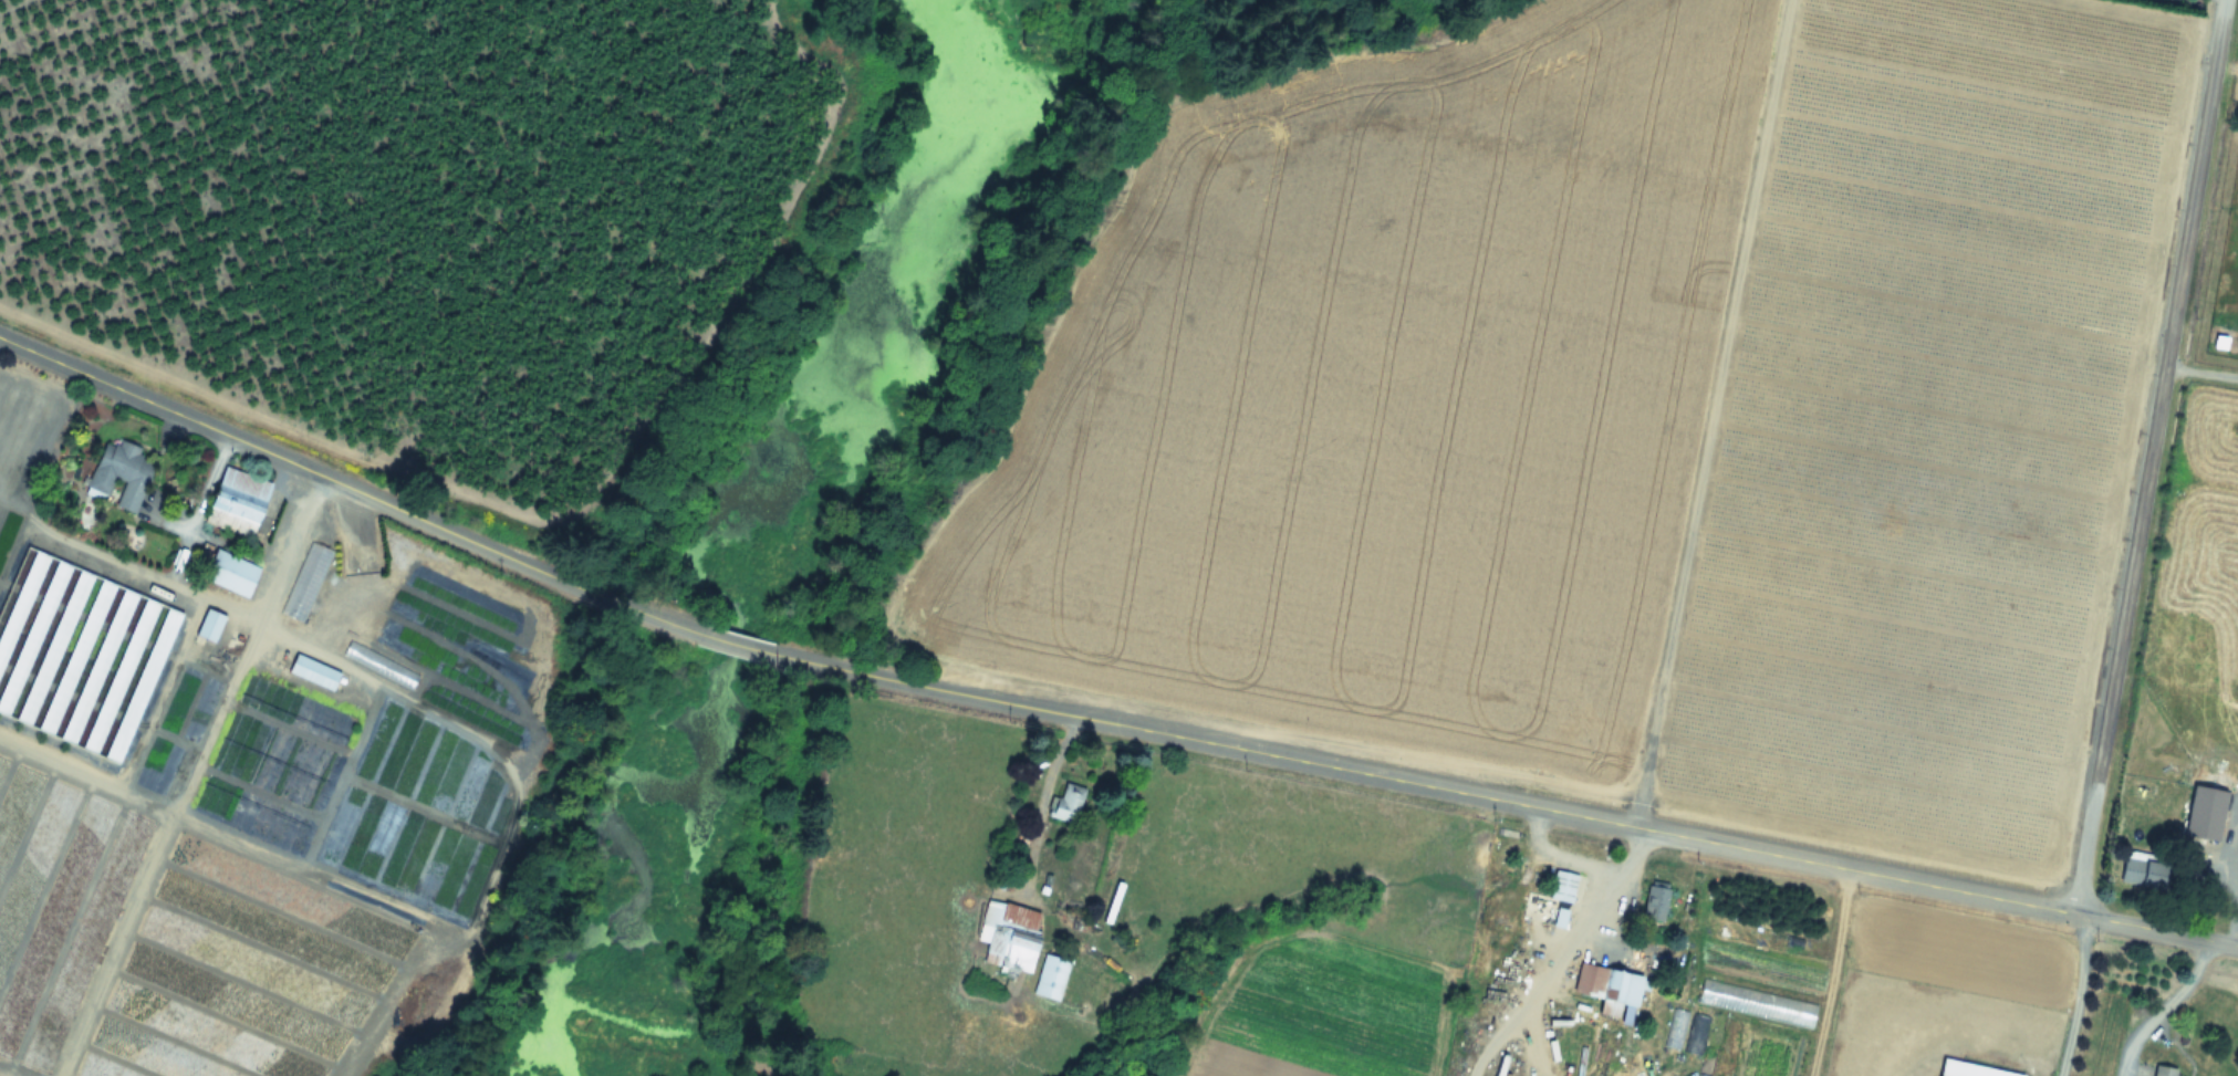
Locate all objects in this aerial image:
road: (2200, 370)
road: (1708, 412)
crop: (1614, 417)
road: (2148, 456)
building: (125, 473)
road: (346, 484)
building: (237, 501)
road: (283, 546)
building: (230, 572)
building: (305, 581)
crop: (2198, 616)
building: (209, 625)
road: (757, 649)
building: (79, 654)
building: (313, 671)
road: (1179, 796)
road: (1041, 798)
building: (1068, 802)
road: (1530, 804)
building: (216, 805)
building: (2197, 823)
building: (2220, 833)
road: (1559, 855)
building: (2144, 868)
building: (1562, 885)
building: (1655, 900)
crop: (1396, 934)
building: (1009, 936)
crop: (180, 944)
road: (1564, 957)
road: (1836, 972)
building: (1051, 976)
building: (1609, 985)
road: (2072, 995)
road: (2155, 1005)
road: (1533, 1047)
building: (1972, 1069)
building: (2164, 1070)

